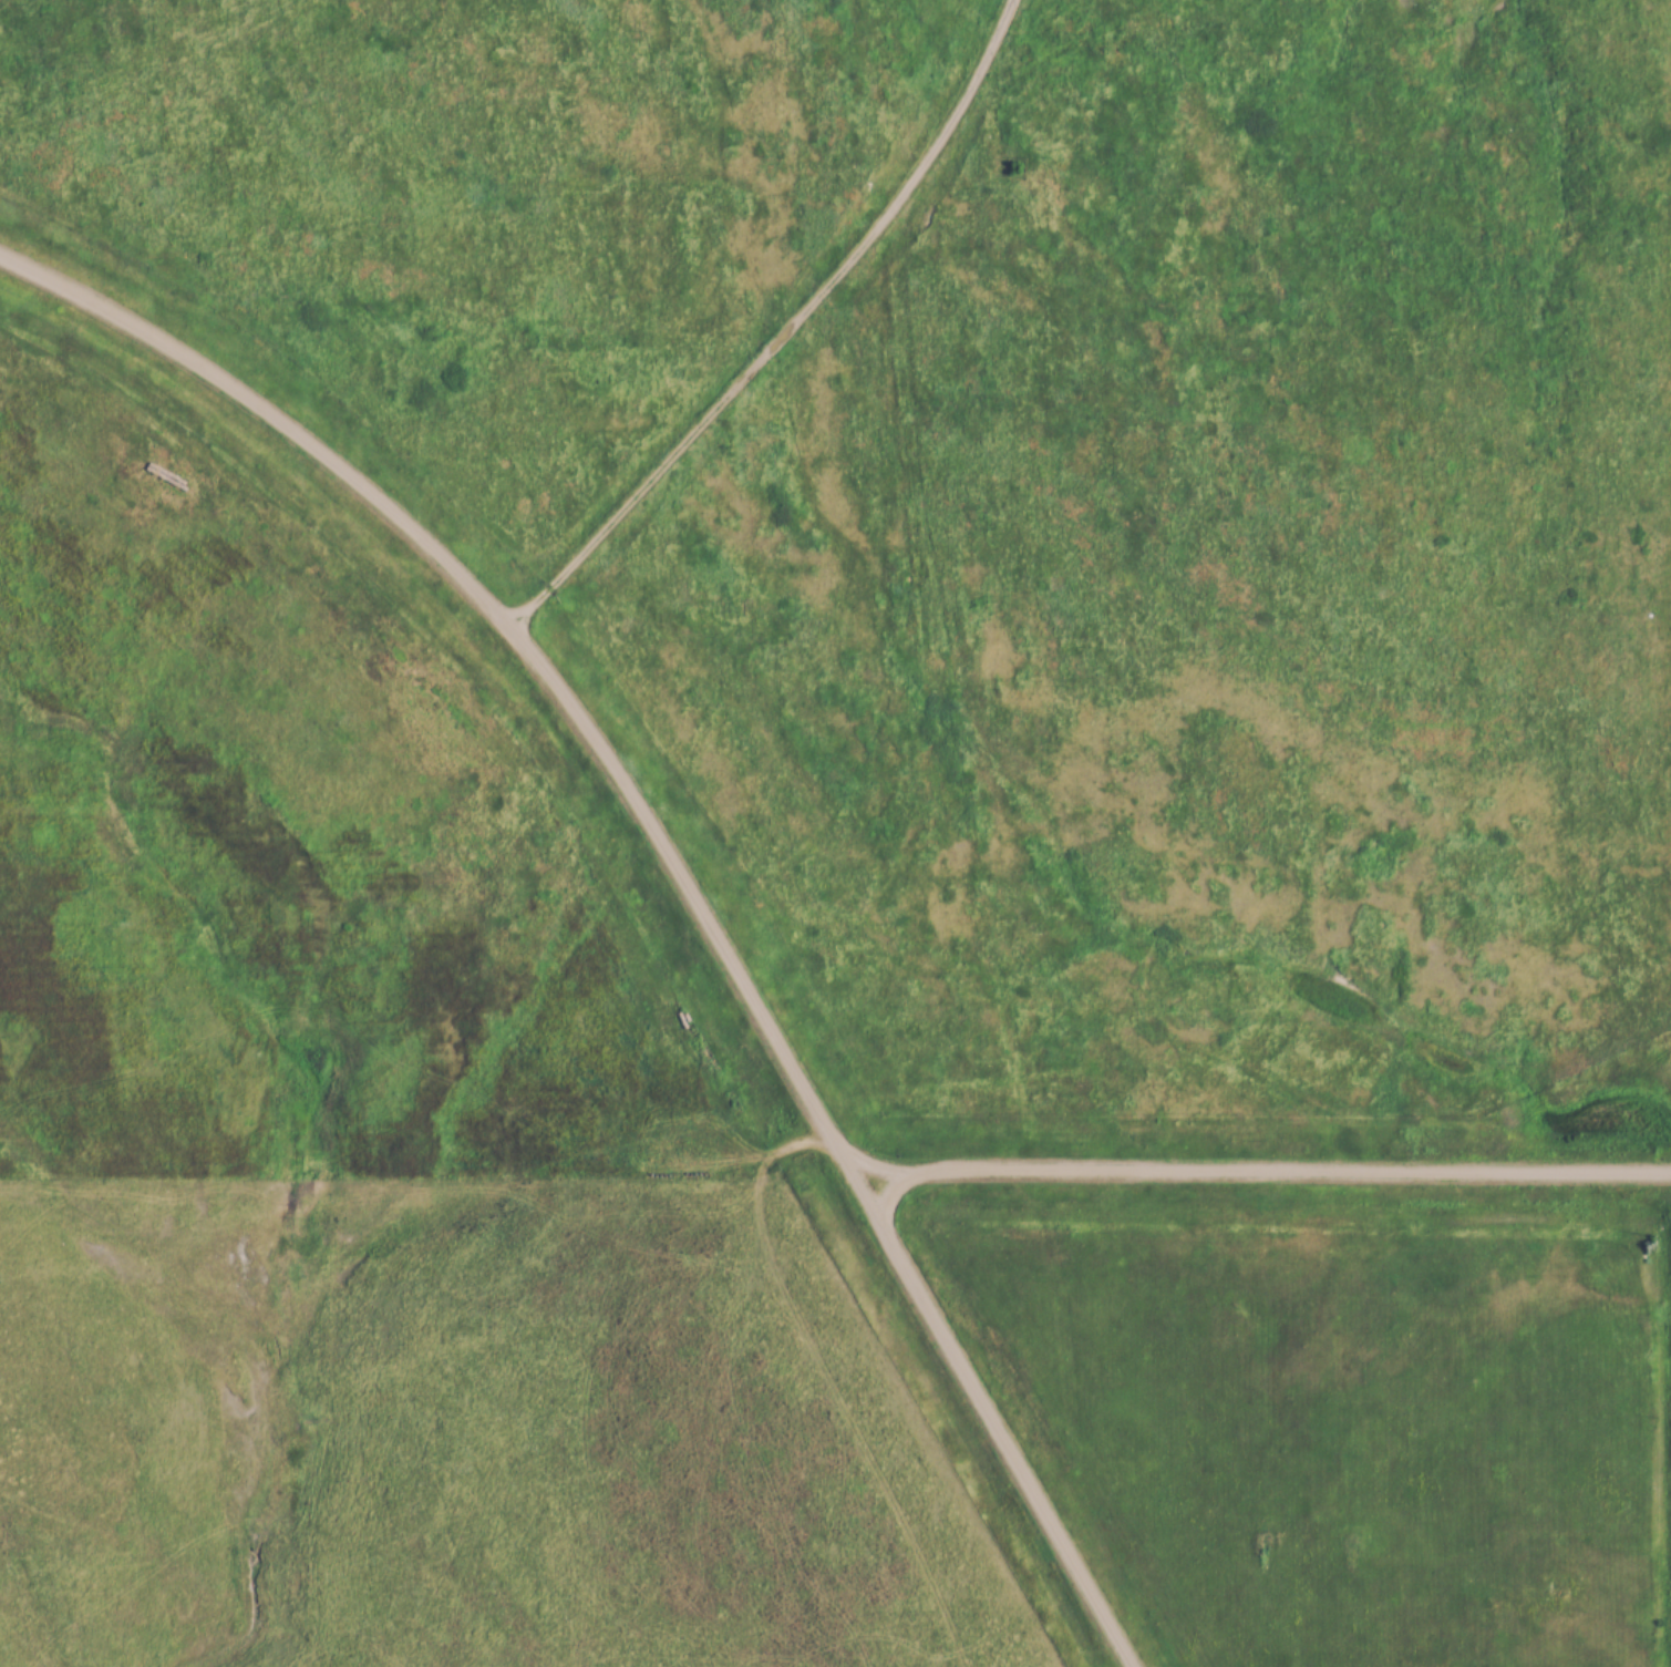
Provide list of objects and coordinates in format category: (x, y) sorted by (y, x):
road: (736, 974)
road: (992, 1419)

